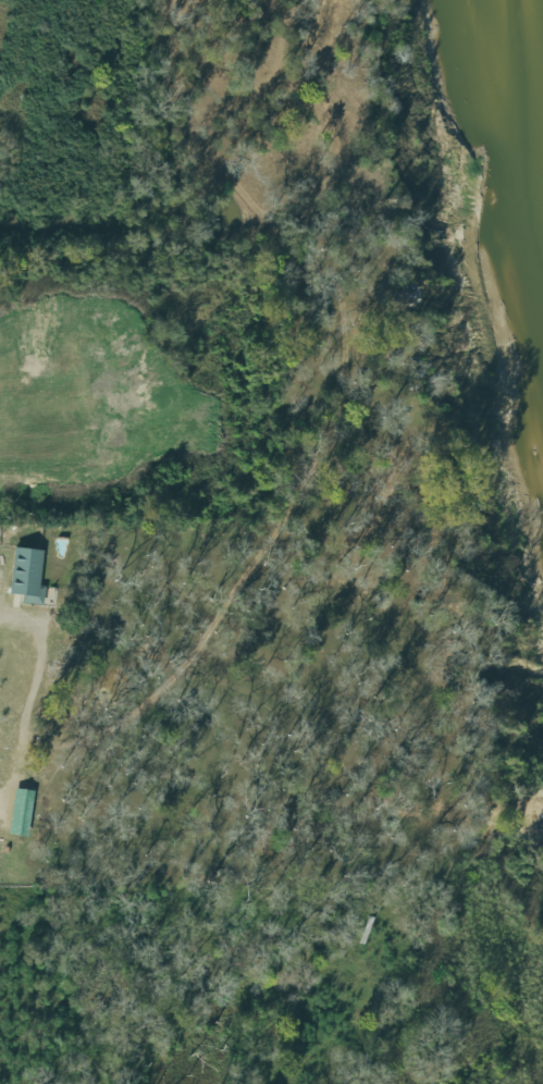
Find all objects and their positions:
building: (26, 576)
road: (36, 677)
building: (20, 813)

